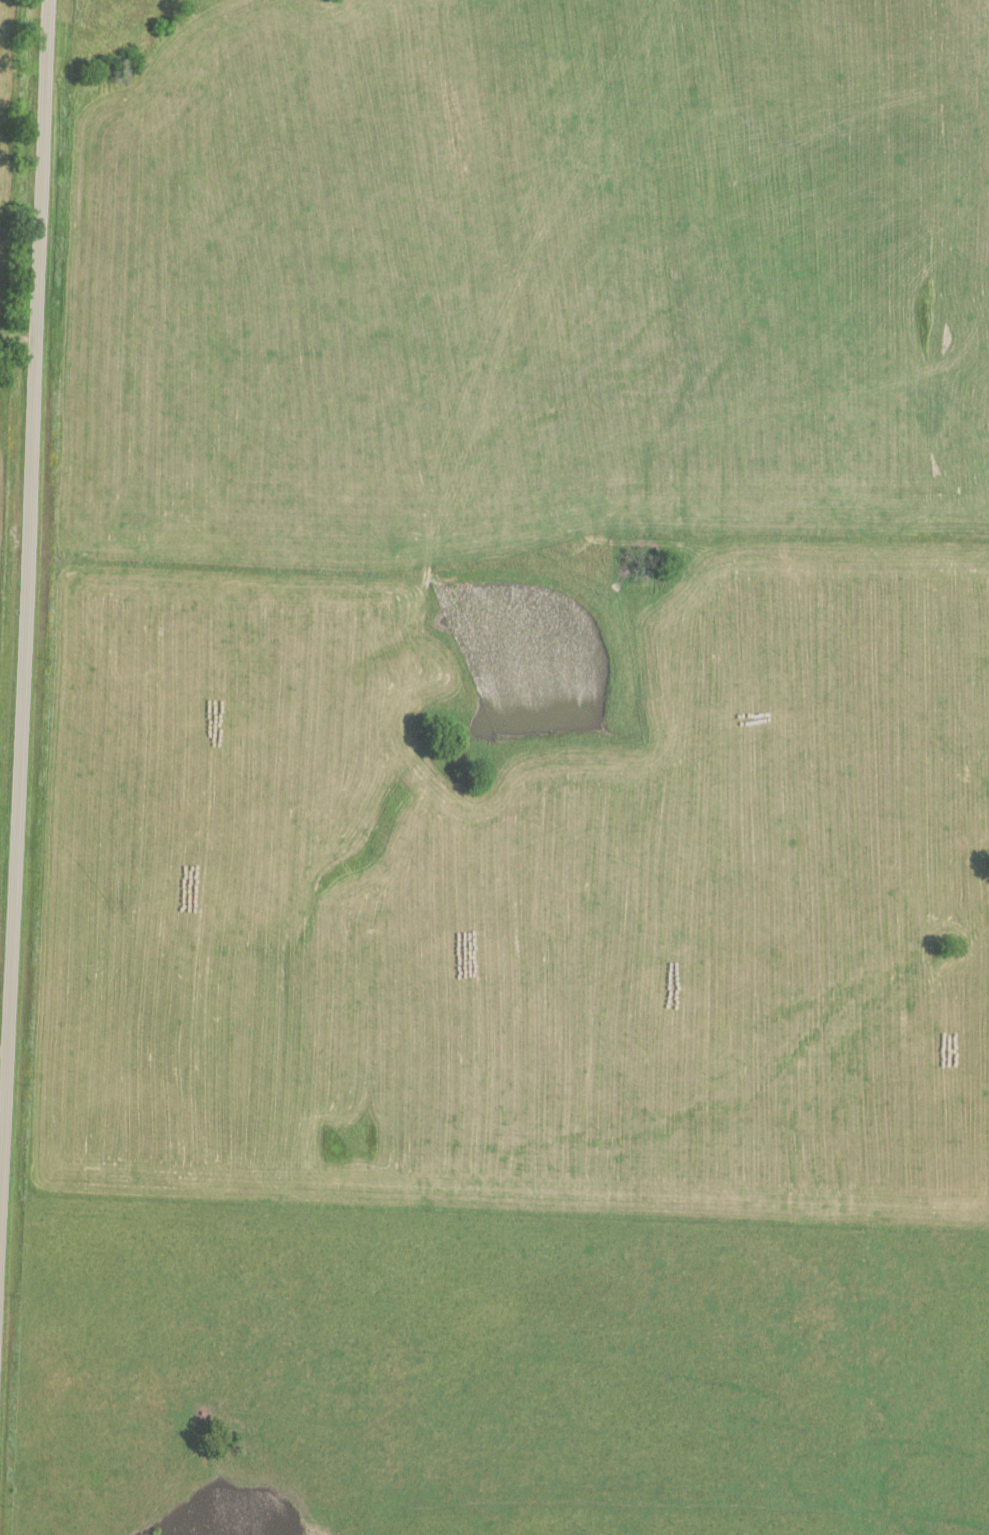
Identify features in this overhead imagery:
road: (25, 590)

